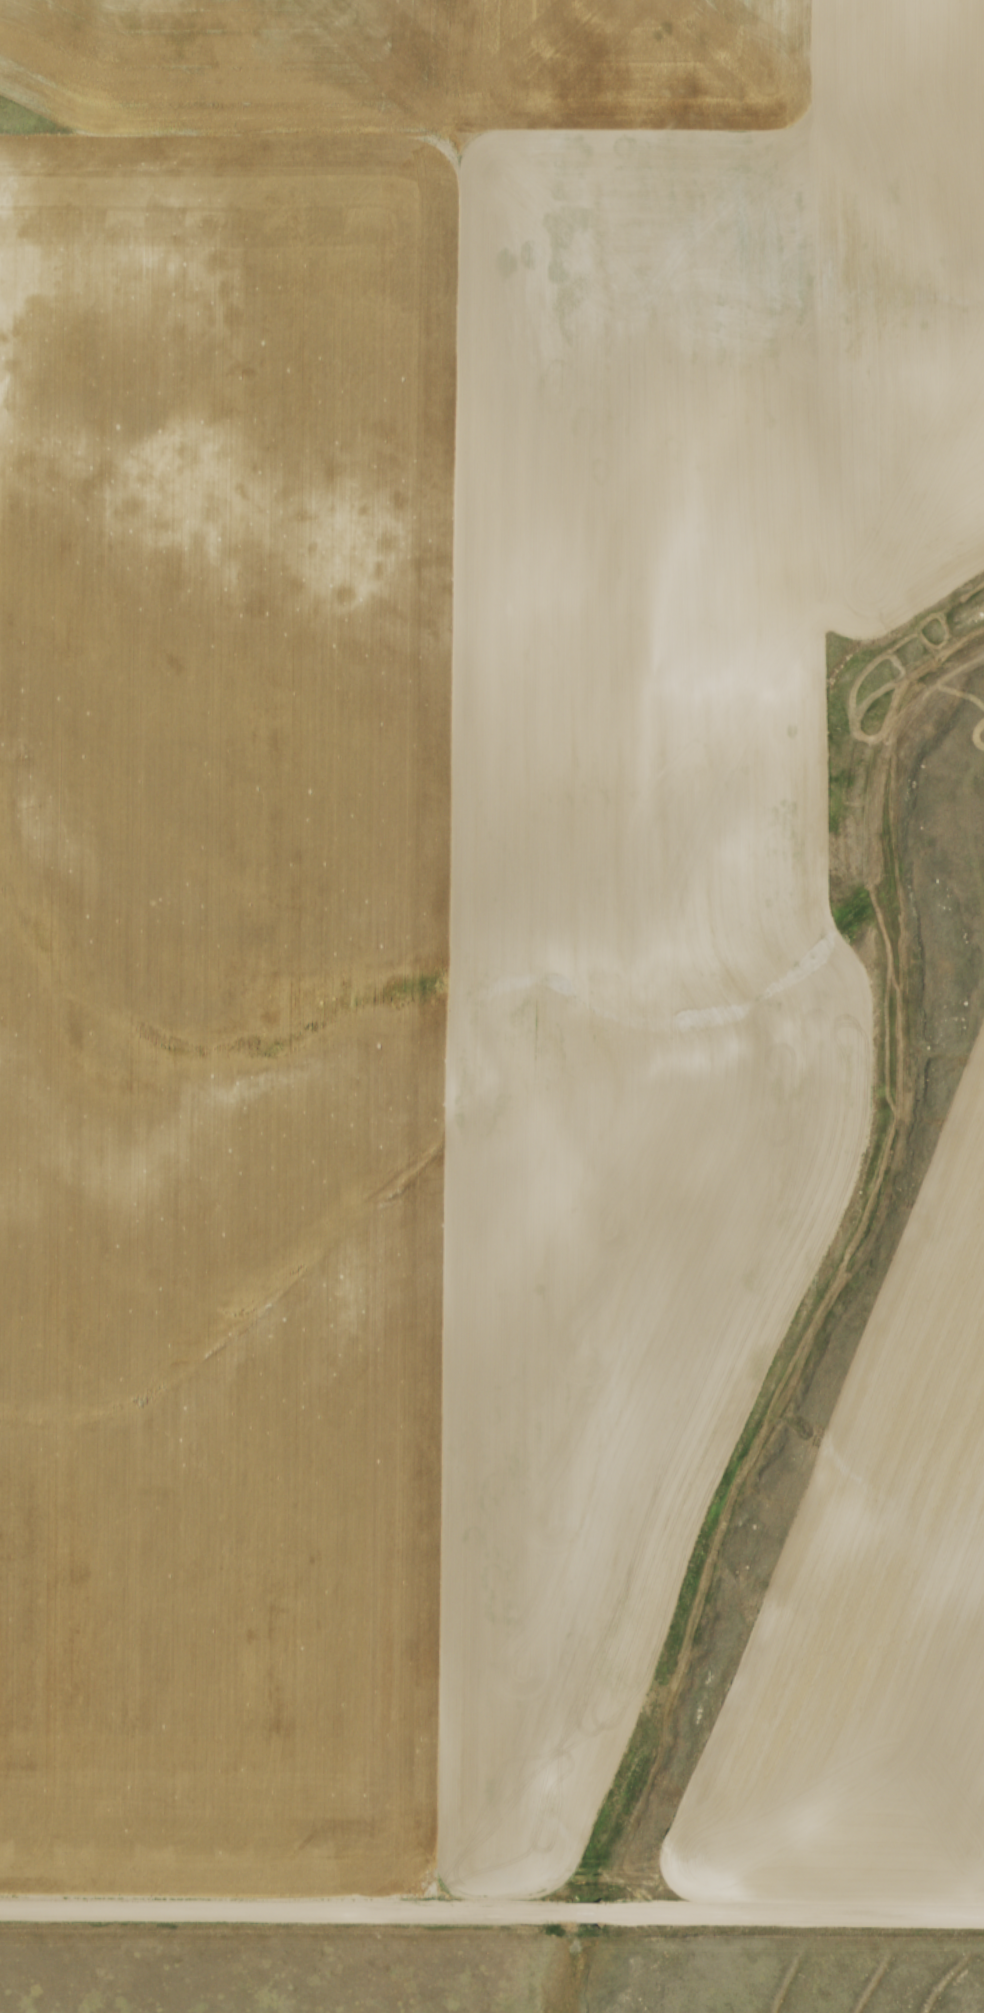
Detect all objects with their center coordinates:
road: (285, 1908)
road: (583, 1908)
road: (790, 1910)

